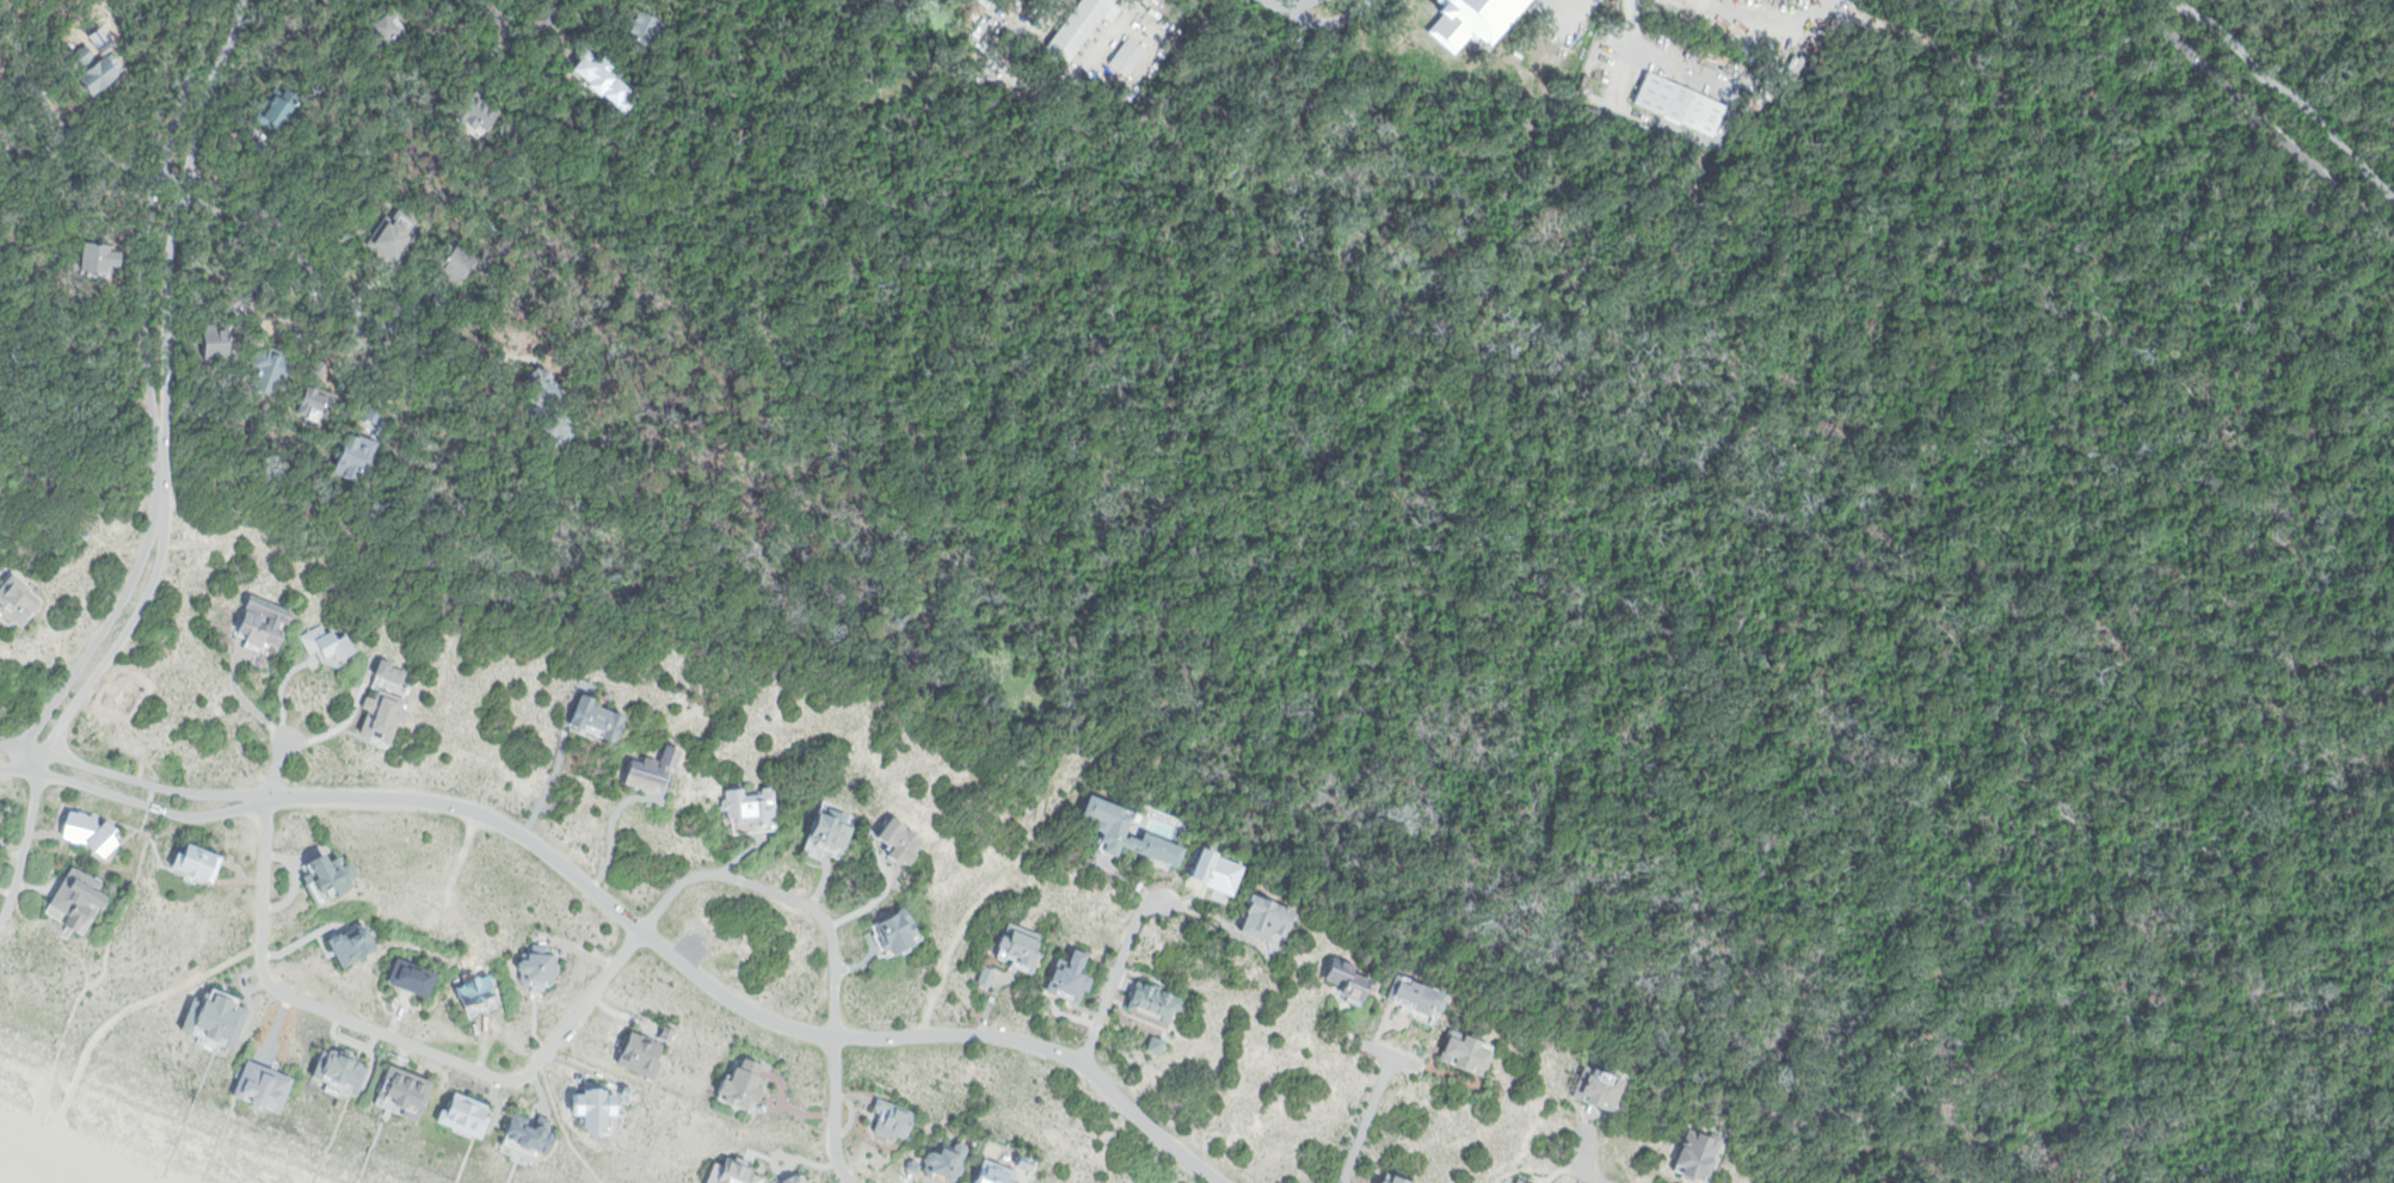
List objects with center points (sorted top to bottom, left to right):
building: (2238, 0)
building: (985, 2)
building: (425, 11)
road: (1768, 16)
road: (500, 21)
building: (650, 24)
building: (1082, 25)
building: (393, 26)
building: (1568, 31)
building: (1555, 35)
road: (1651, 45)
road: (2327, 50)
building: (1130, 54)
building: (604, 76)
building: (1, 79)
road: (2289, 90)
building: (1682, 101)
building: (283, 109)
building: (481, 113)
road: (2260, 123)
road: (63, 125)
road: (1667, 127)
road: (36, 158)
road: (153, 217)
road: (174, 217)
building: (101, 257)
building: (460, 261)
road: (295, 277)
building: (271, 334)
building: (216, 339)
building: (273, 371)
building: (542, 390)
building: (375, 409)
building: (561, 431)
building: (358, 456)
road: (160, 485)
road: (1654, 532)
building: (18, 598)
building: (264, 618)
road: (97, 640)
building: (327, 642)
road: (116, 647)
building: (396, 671)
building: (610, 695)
building: (384, 714)
building: (596, 717)
road: (36, 762)
building: (653, 771)
road: (133, 778)
road: (135, 801)
building: (753, 807)
building: (829, 826)
building: (0, 830)
building: (92, 831)
building: (1132, 832)
building: (0, 833)
building: (903, 840)
road: (25, 850)
building: (198, 863)
building: (1223, 871)
building: (330, 875)
road: (781, 894)
building: (76, 901)
building: (1268, 918)
road: (118, 919)
building: (897, 931)
building: (1021, 943)
building: (356, 944)
building: (540, 965)
road: (1114, 974)
building: (987, 975)
building: (413, 976)
building: (1072, 976)
building: (1353, 981)
building: (479, 988)
building: (1422, 997)
building: (1155, 999)
road: (152, 1000)
road: (740, 1004)
building: (217, 1018)
road: (368, 1028)
building: (669, 1033)
building: (1156, 1042)
building: (1592, 1050)
building: (1470, 1053)
road: (1392, 1055)
building: (642, 1056)
building: (343, 1068)
building: (745, 1085)
building: (266, 1086)
building: (1602, 1088)
building: (406, 1090)
building: (633, 1093)
building: (597, 1108)
road: (836, 1111)
building: (467, 1115)
road: (1367, 1119)
building: (896, 1120)
building: (534, 1134)
building: (1700, 1153)
building: (1029, 1162)
road: (1583, 1162)
building: (942, 1164)
building: (736, 1172)
building: (998, 1173)
building: (1393, 1178)
building: (796, 1179)
building: (1521, 1181)

